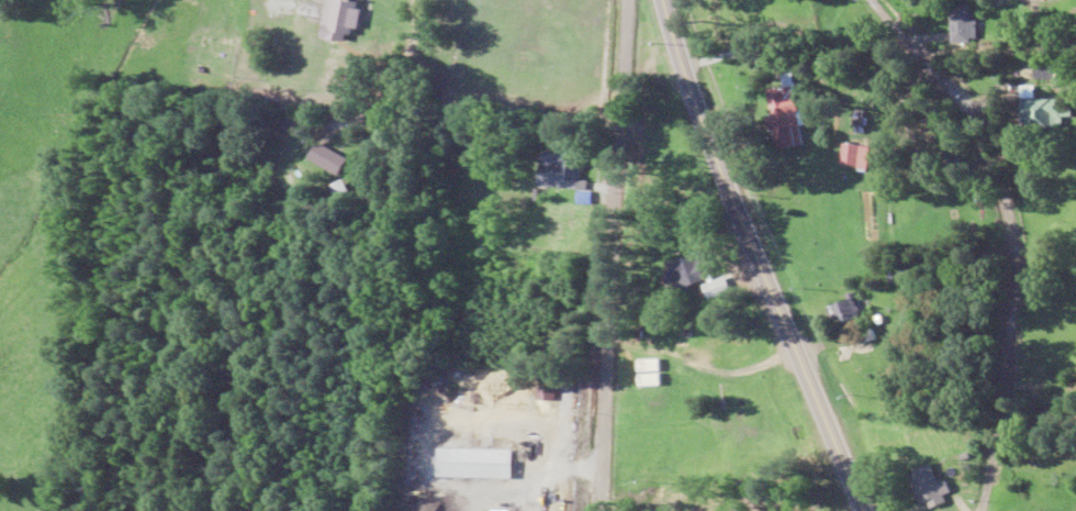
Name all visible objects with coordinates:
building: (340, 19)
building: (968, 24)
building: (1052, 111)
building: (791, 118)
building: (861, 156)
building: (335, 159)
building: (559, 171)
road: (205, 176)
road: (1010, 237)
road: (603, 255)
road: (750, 256)
building: (688, 271)
building: (853, 316)
road: (395, 351)
building: (647, 376)
road: (1036, 415)
road: (194, 432)
building: (480, 464)
building: (928, 488)

